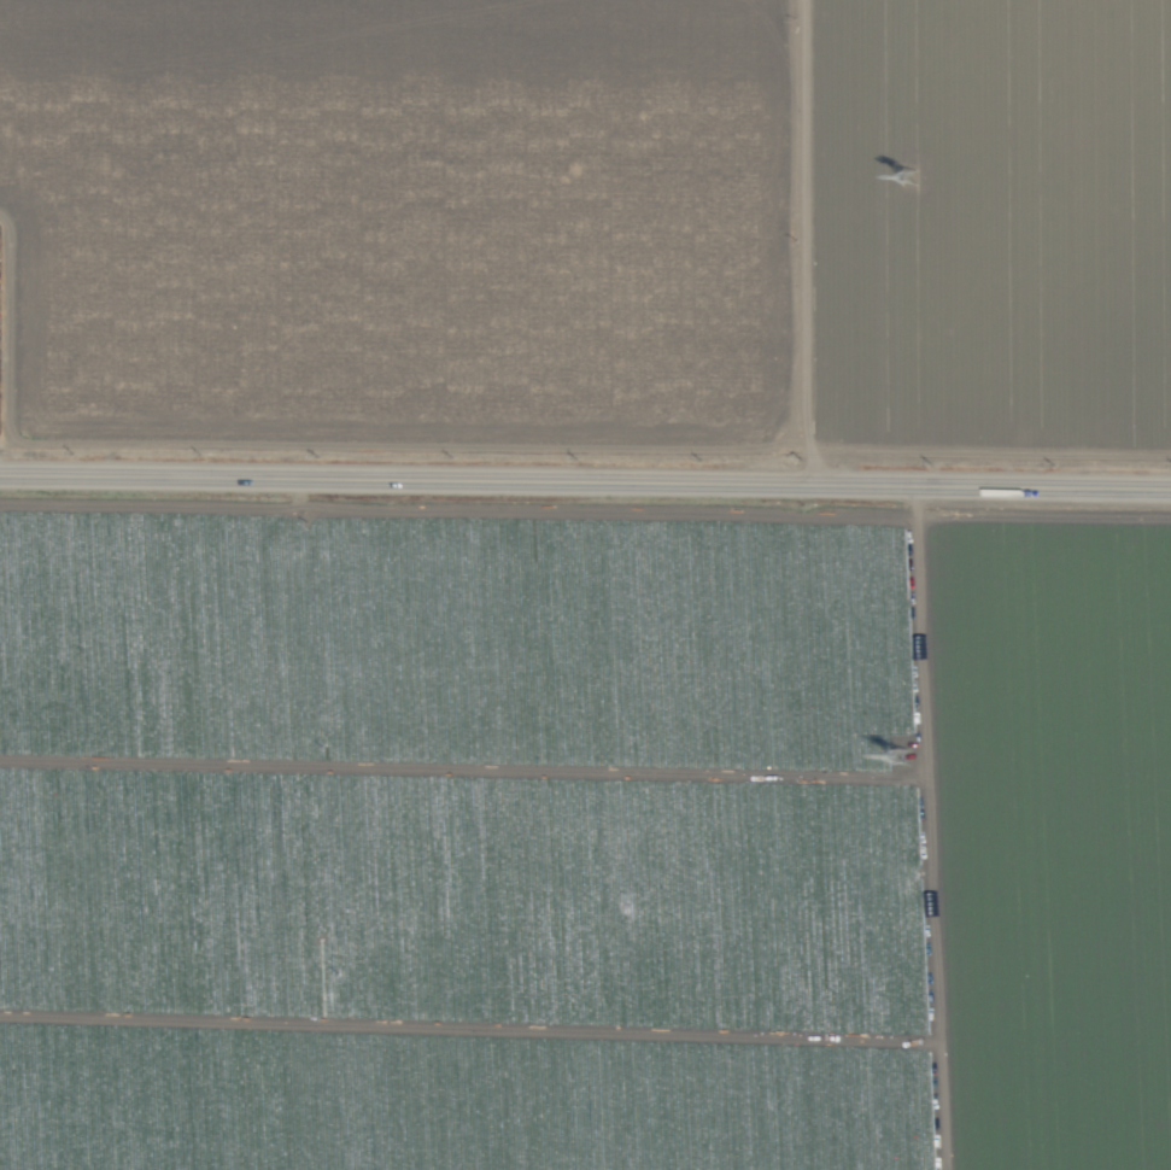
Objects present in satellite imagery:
power tower: (912, 177)
road: (585, 481)
crop: (585, 585)
power tower: (902, 757)

